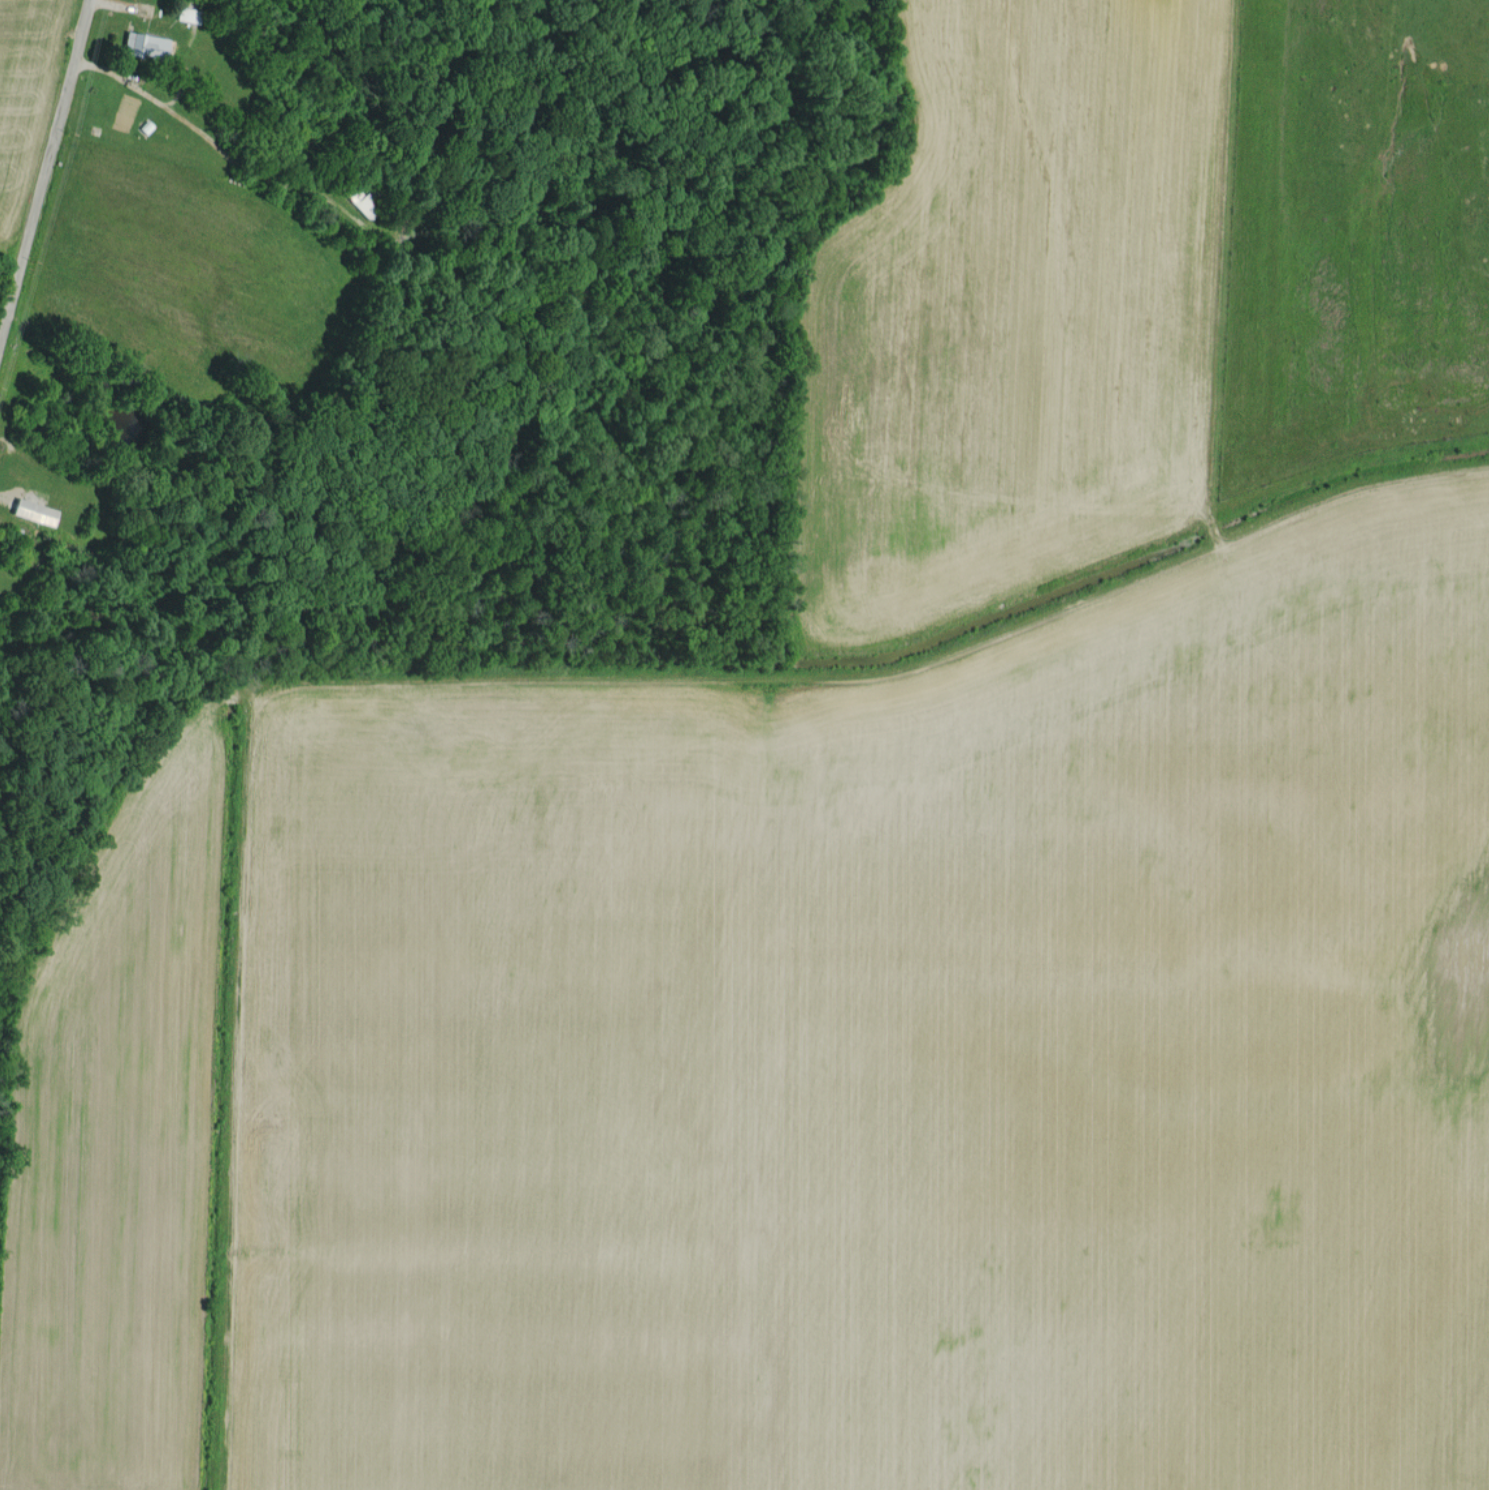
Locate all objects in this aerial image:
building: (145, 45)
road: (211, 139)
road: (44, 167)
building: (368, 202)

